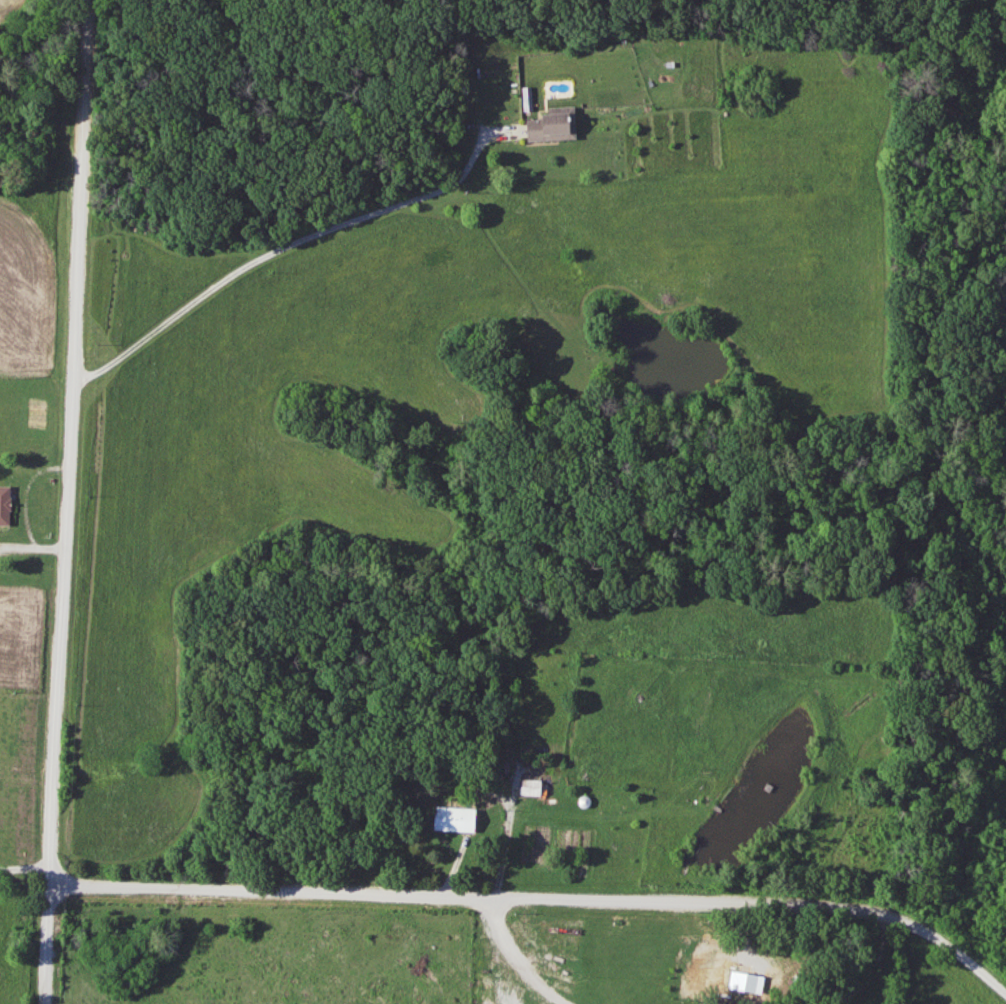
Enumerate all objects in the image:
building: (548, 125)
road: (280, 247)
road: (67, 502)
building: (7, 507)
building: (527, 788)
building: (450, 820)
road: (24, 868)
road: (539, 898)
road: (514, 959)
building: (739, 979)

